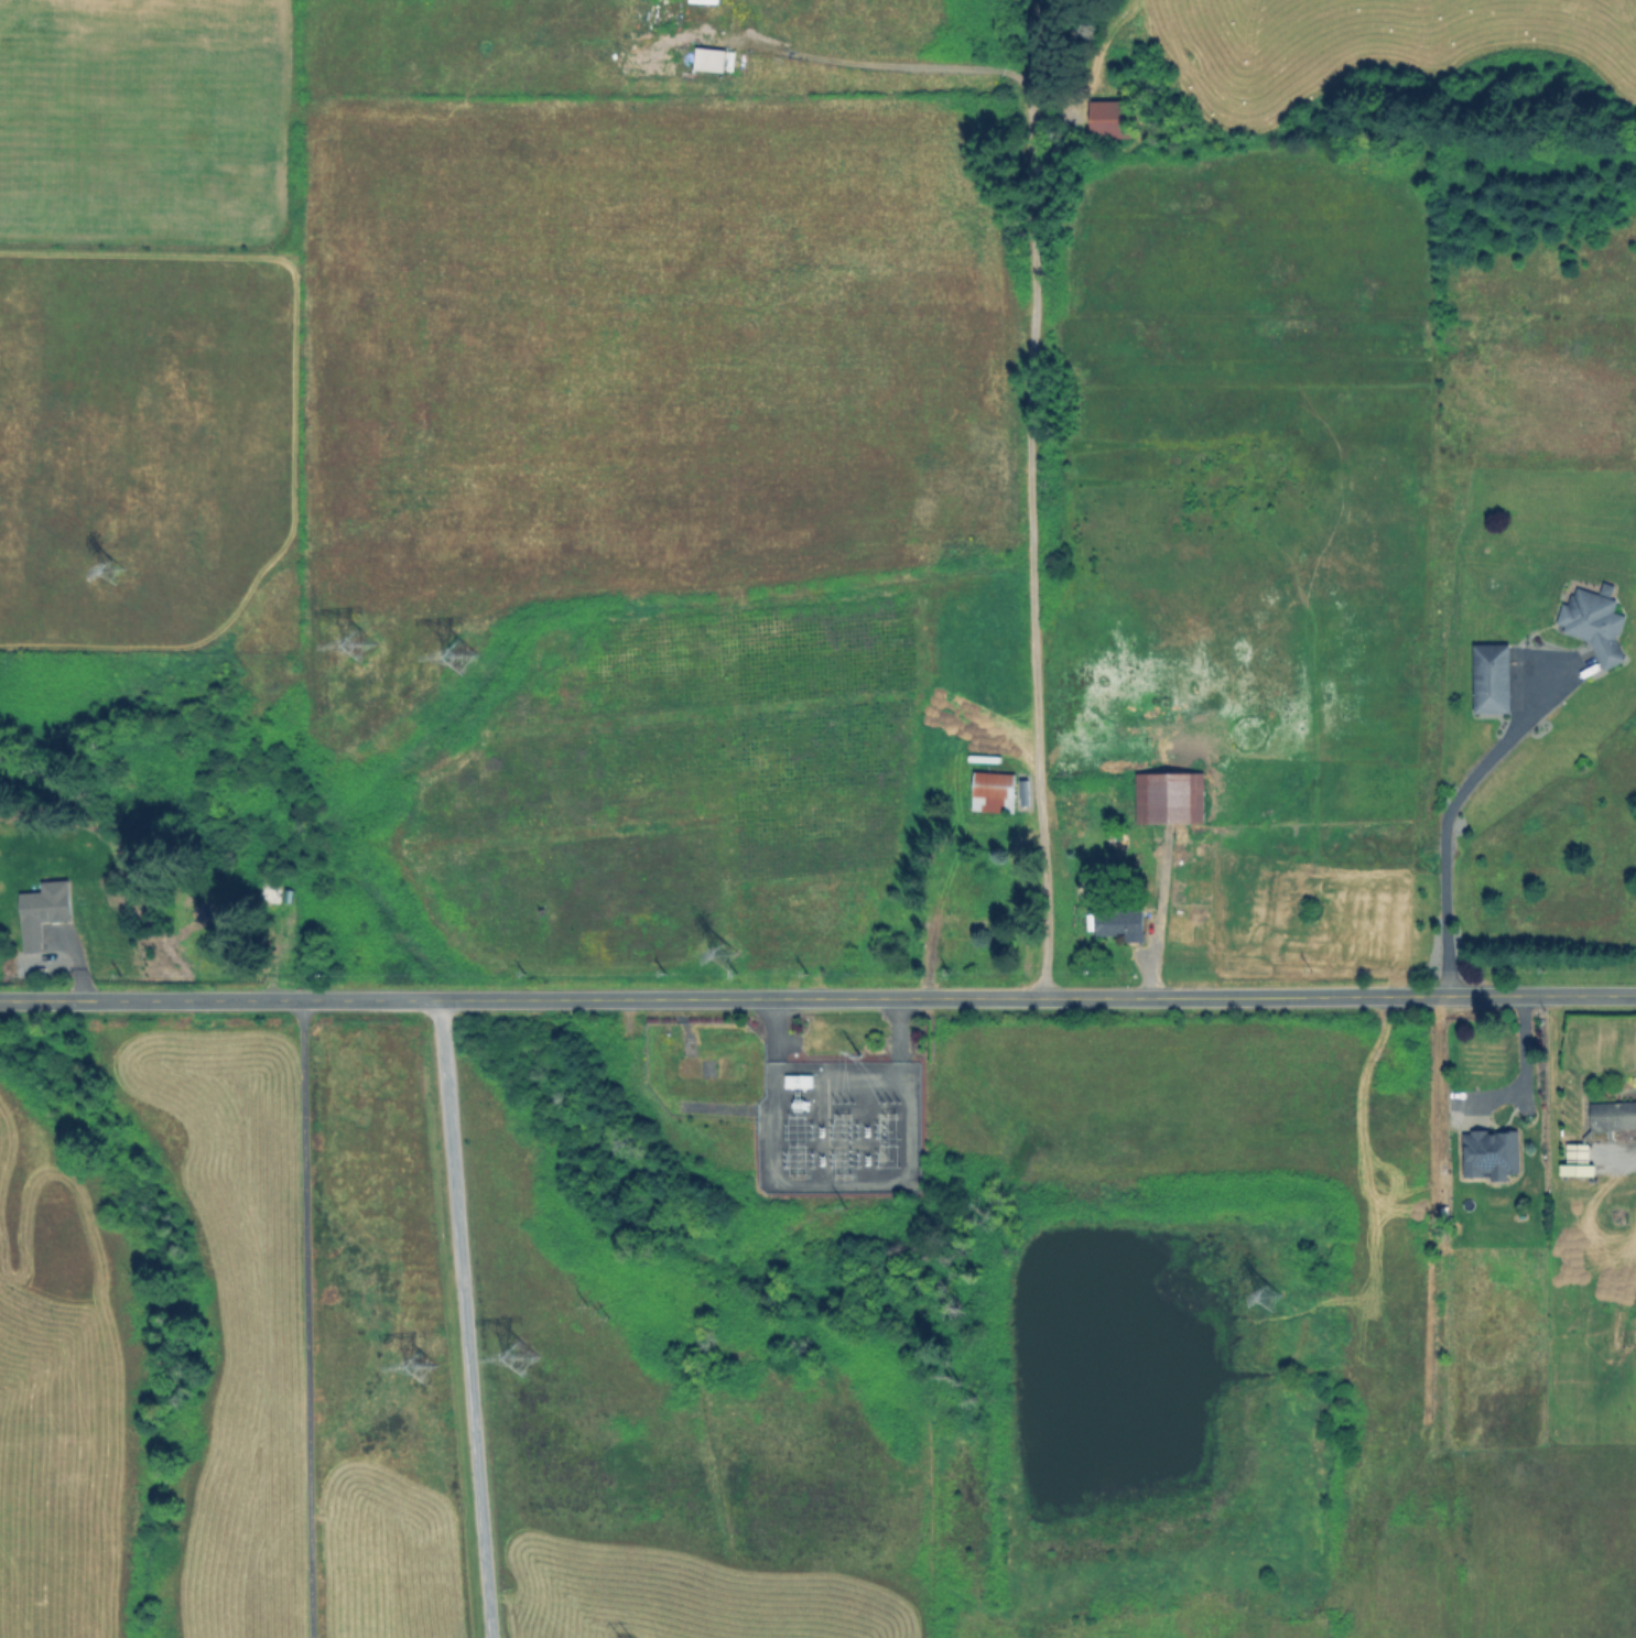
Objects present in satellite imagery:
building: (707, 58)
building: (1106, 118)
road: (1029, 419)
power tower: (91, 581)
building: (1593, 621)
power tower: (337, 660)
power tower: (443, 666)
building: (1489, 677)
building: (992, 791)
building: (1168, 796)
road: (1448, 807)
building: (42, 911)
road: (1159, 916)
building: (1118, 923)
power tower: (723, 953)
road: (817, 996)
power tower: (854, 1051)
road: (1524, 1073)
building: (1612, 1115)
power substation: (837, 1125)
building: (1488, 1153)
building: (1575, 1160)
power tower: (1275, 1294)
road: (306, 1317)
road: (465, 1317)
power tower: (506, 1374)
power tower: (408, 1377)

